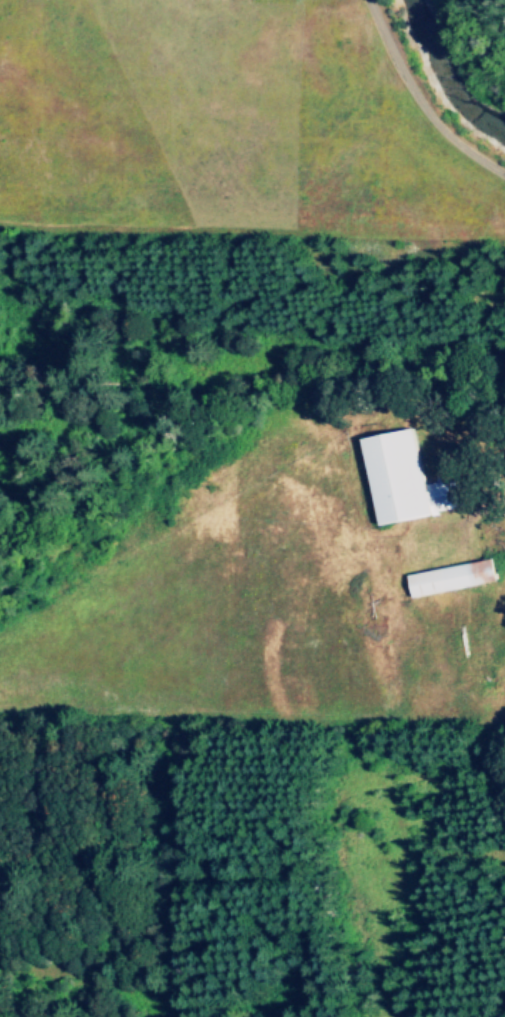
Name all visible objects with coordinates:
road: (421, 98)
building: (409, 481)
road: (491, 500)
building: (455, 579)

